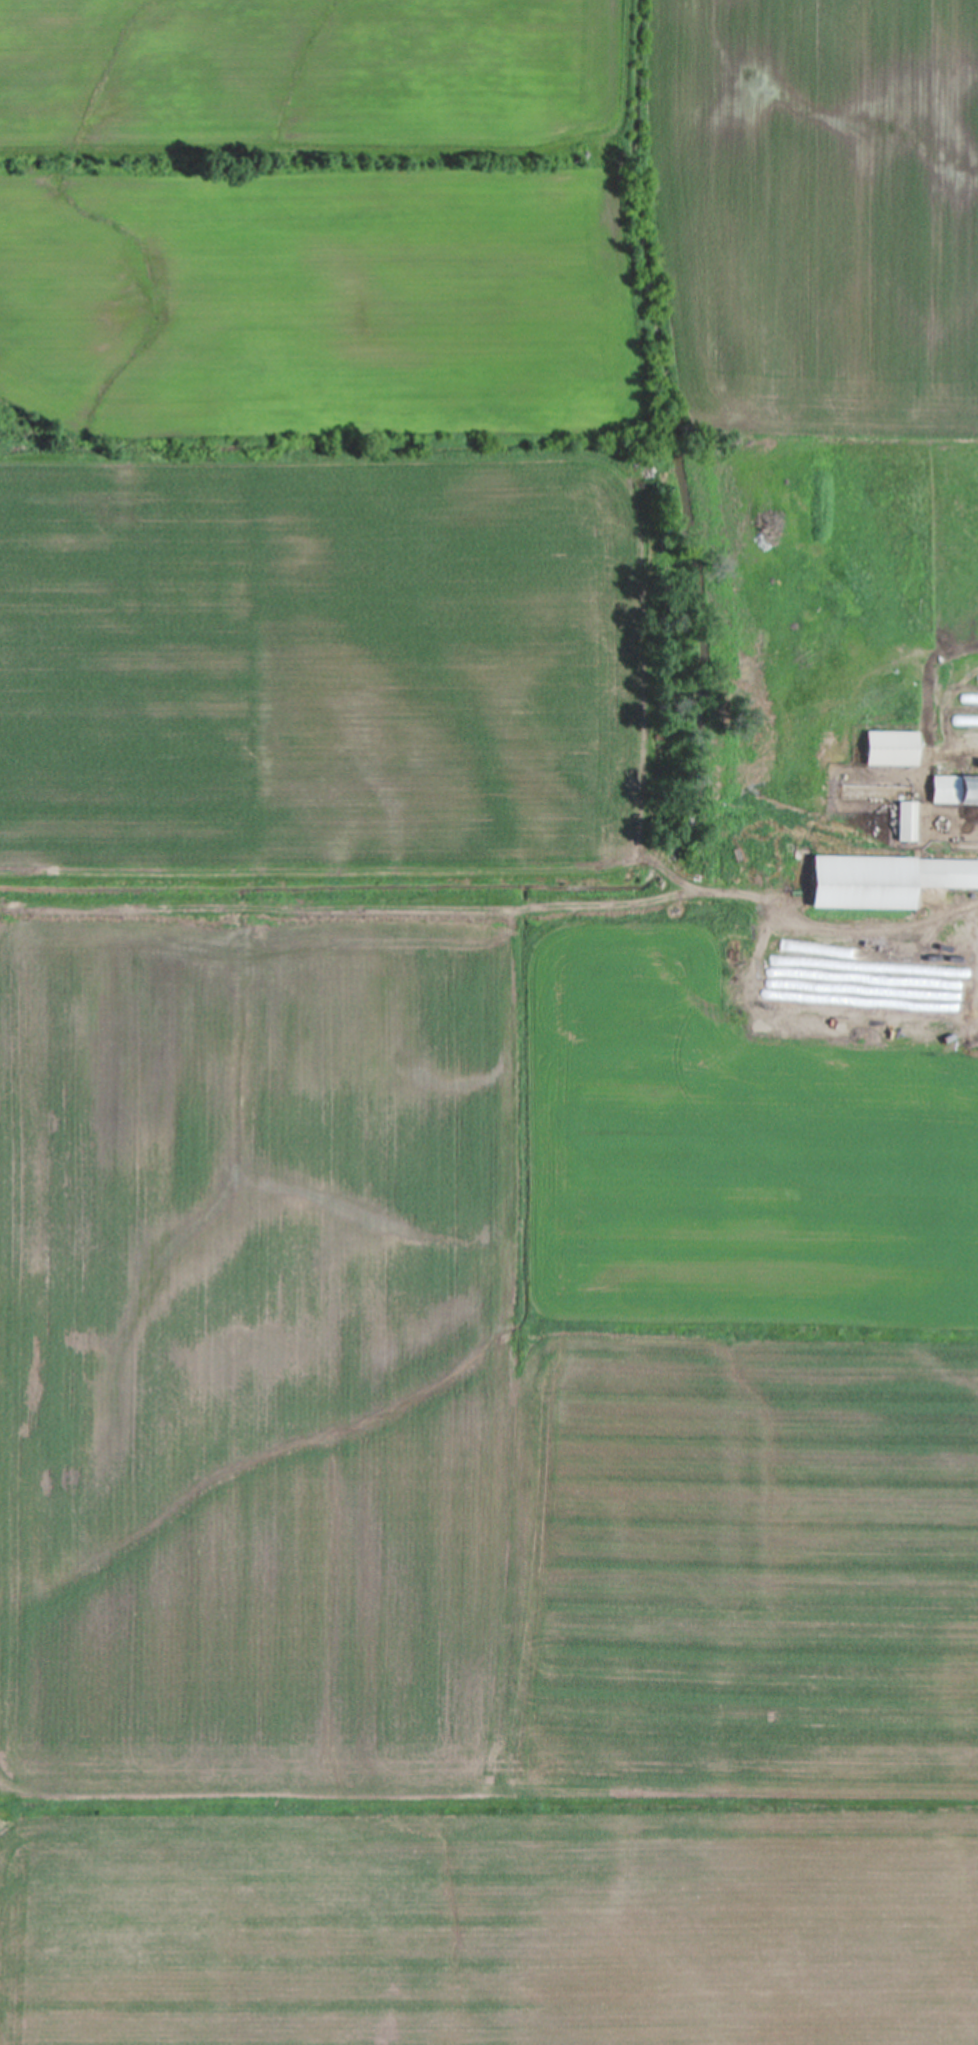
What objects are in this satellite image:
building: (970, 691)
building: (888, 748)
building: (953, 790)
building: (904, 821)
building: (882, 881)

